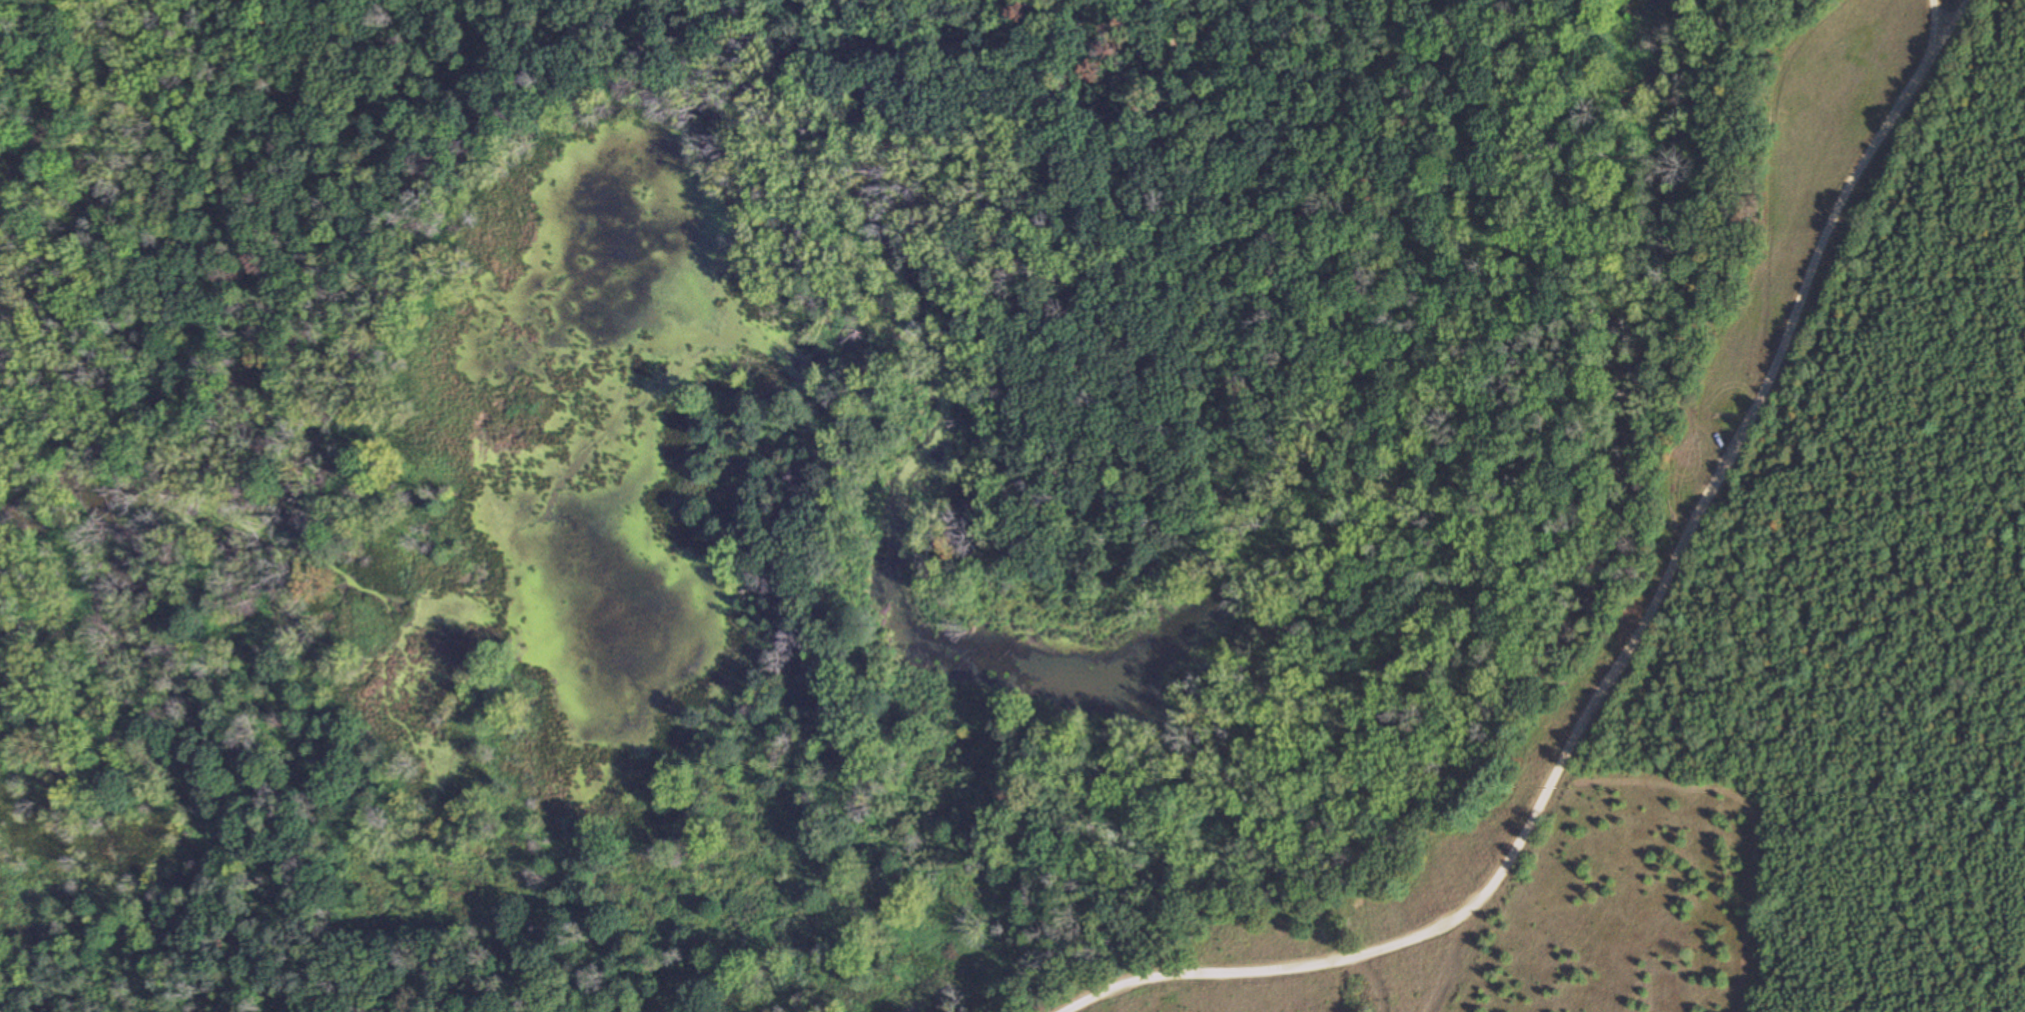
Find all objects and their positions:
road: (1938, 23)
road: (1675, 225)
road: (1627, 646)

